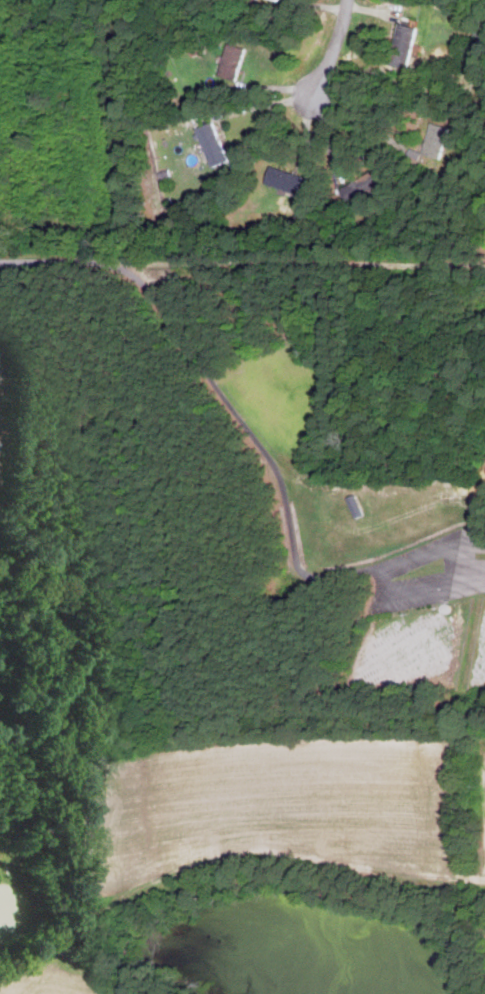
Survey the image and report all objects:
building: (402, 44)
road: (335, 48)
building: (231, 61)
building: (435, 140)
building: (212, 144)
building: (289, 182)
building: (362, 187)
road: (218, 396)
road: (455, 575)

